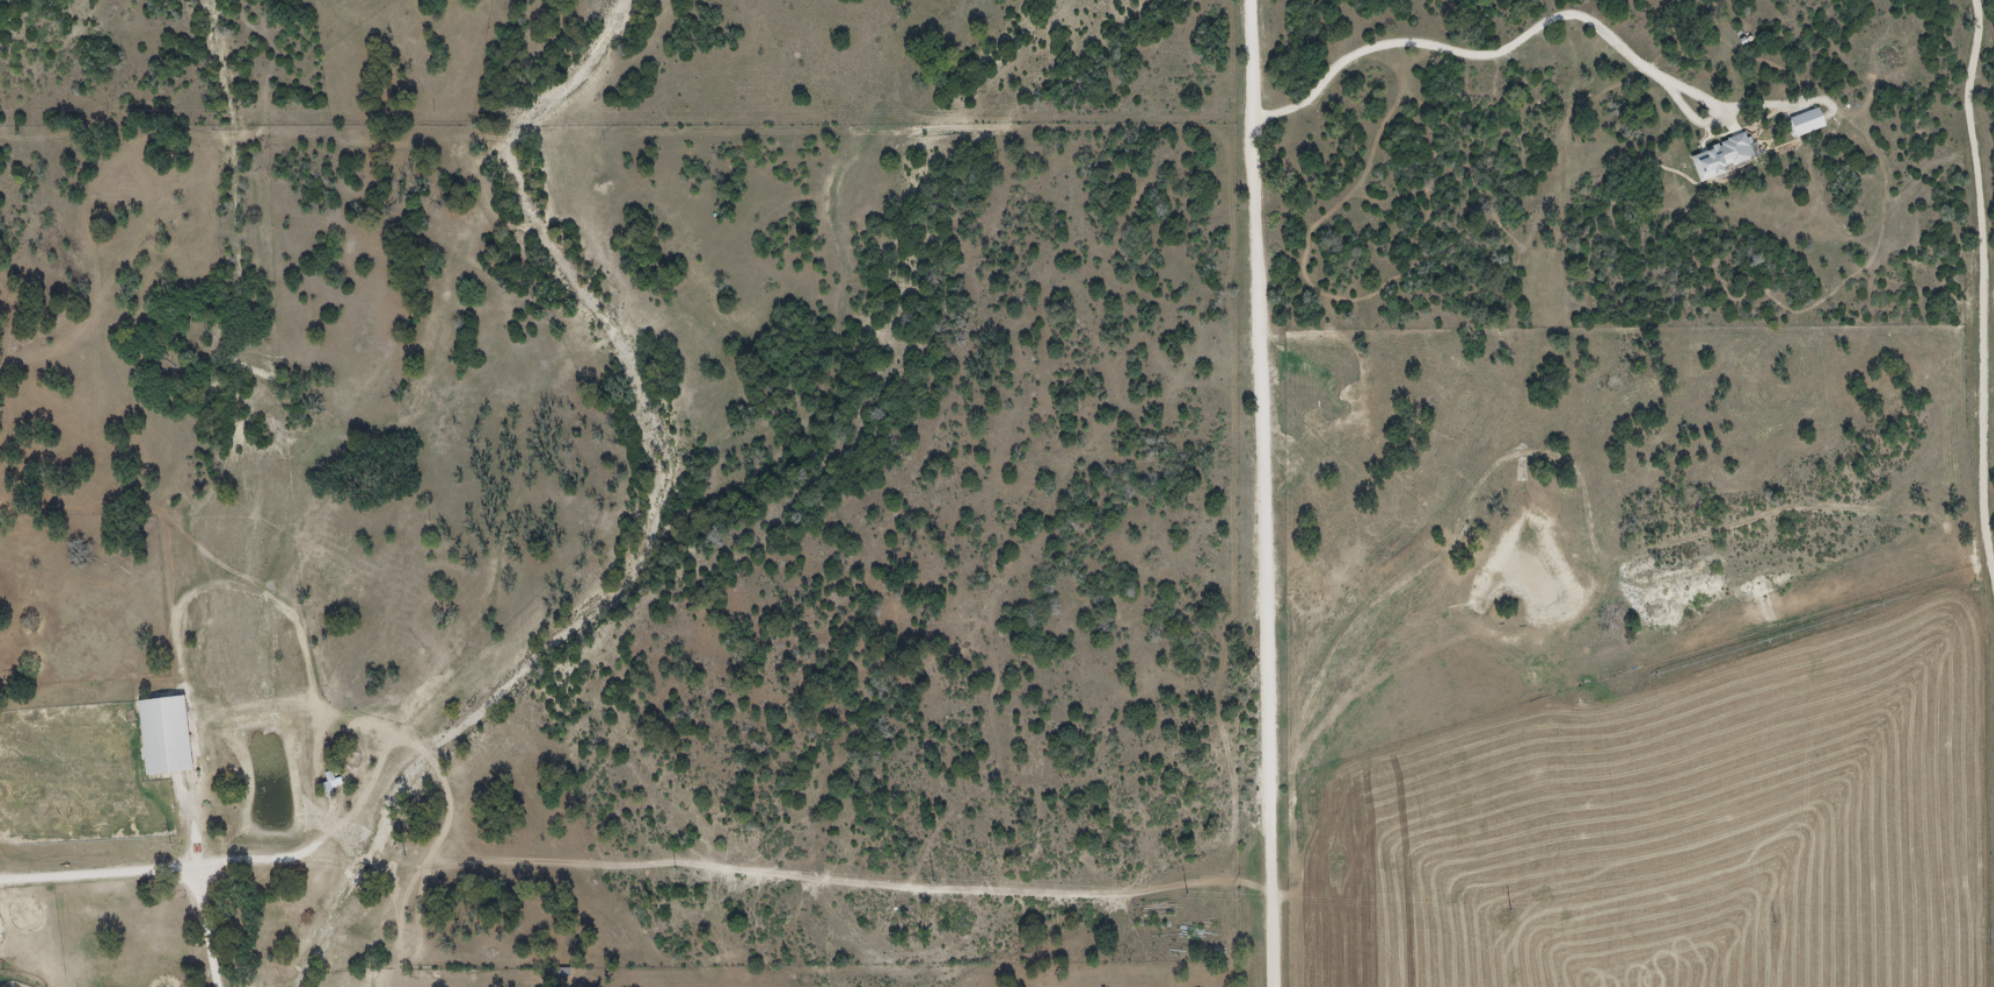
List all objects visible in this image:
road: (1535, 29)
building: (1724, 156)
road: (1266, 493)
building: (332, 783)
power tower: (170, 843)
power tower: (404, 854)
power tower: (676, 867)
road: (149, 871)
power tower: (935, 880)
power tower: (1187, 894)
power tower: (1511, 909)
power tower: (1775, 922)

